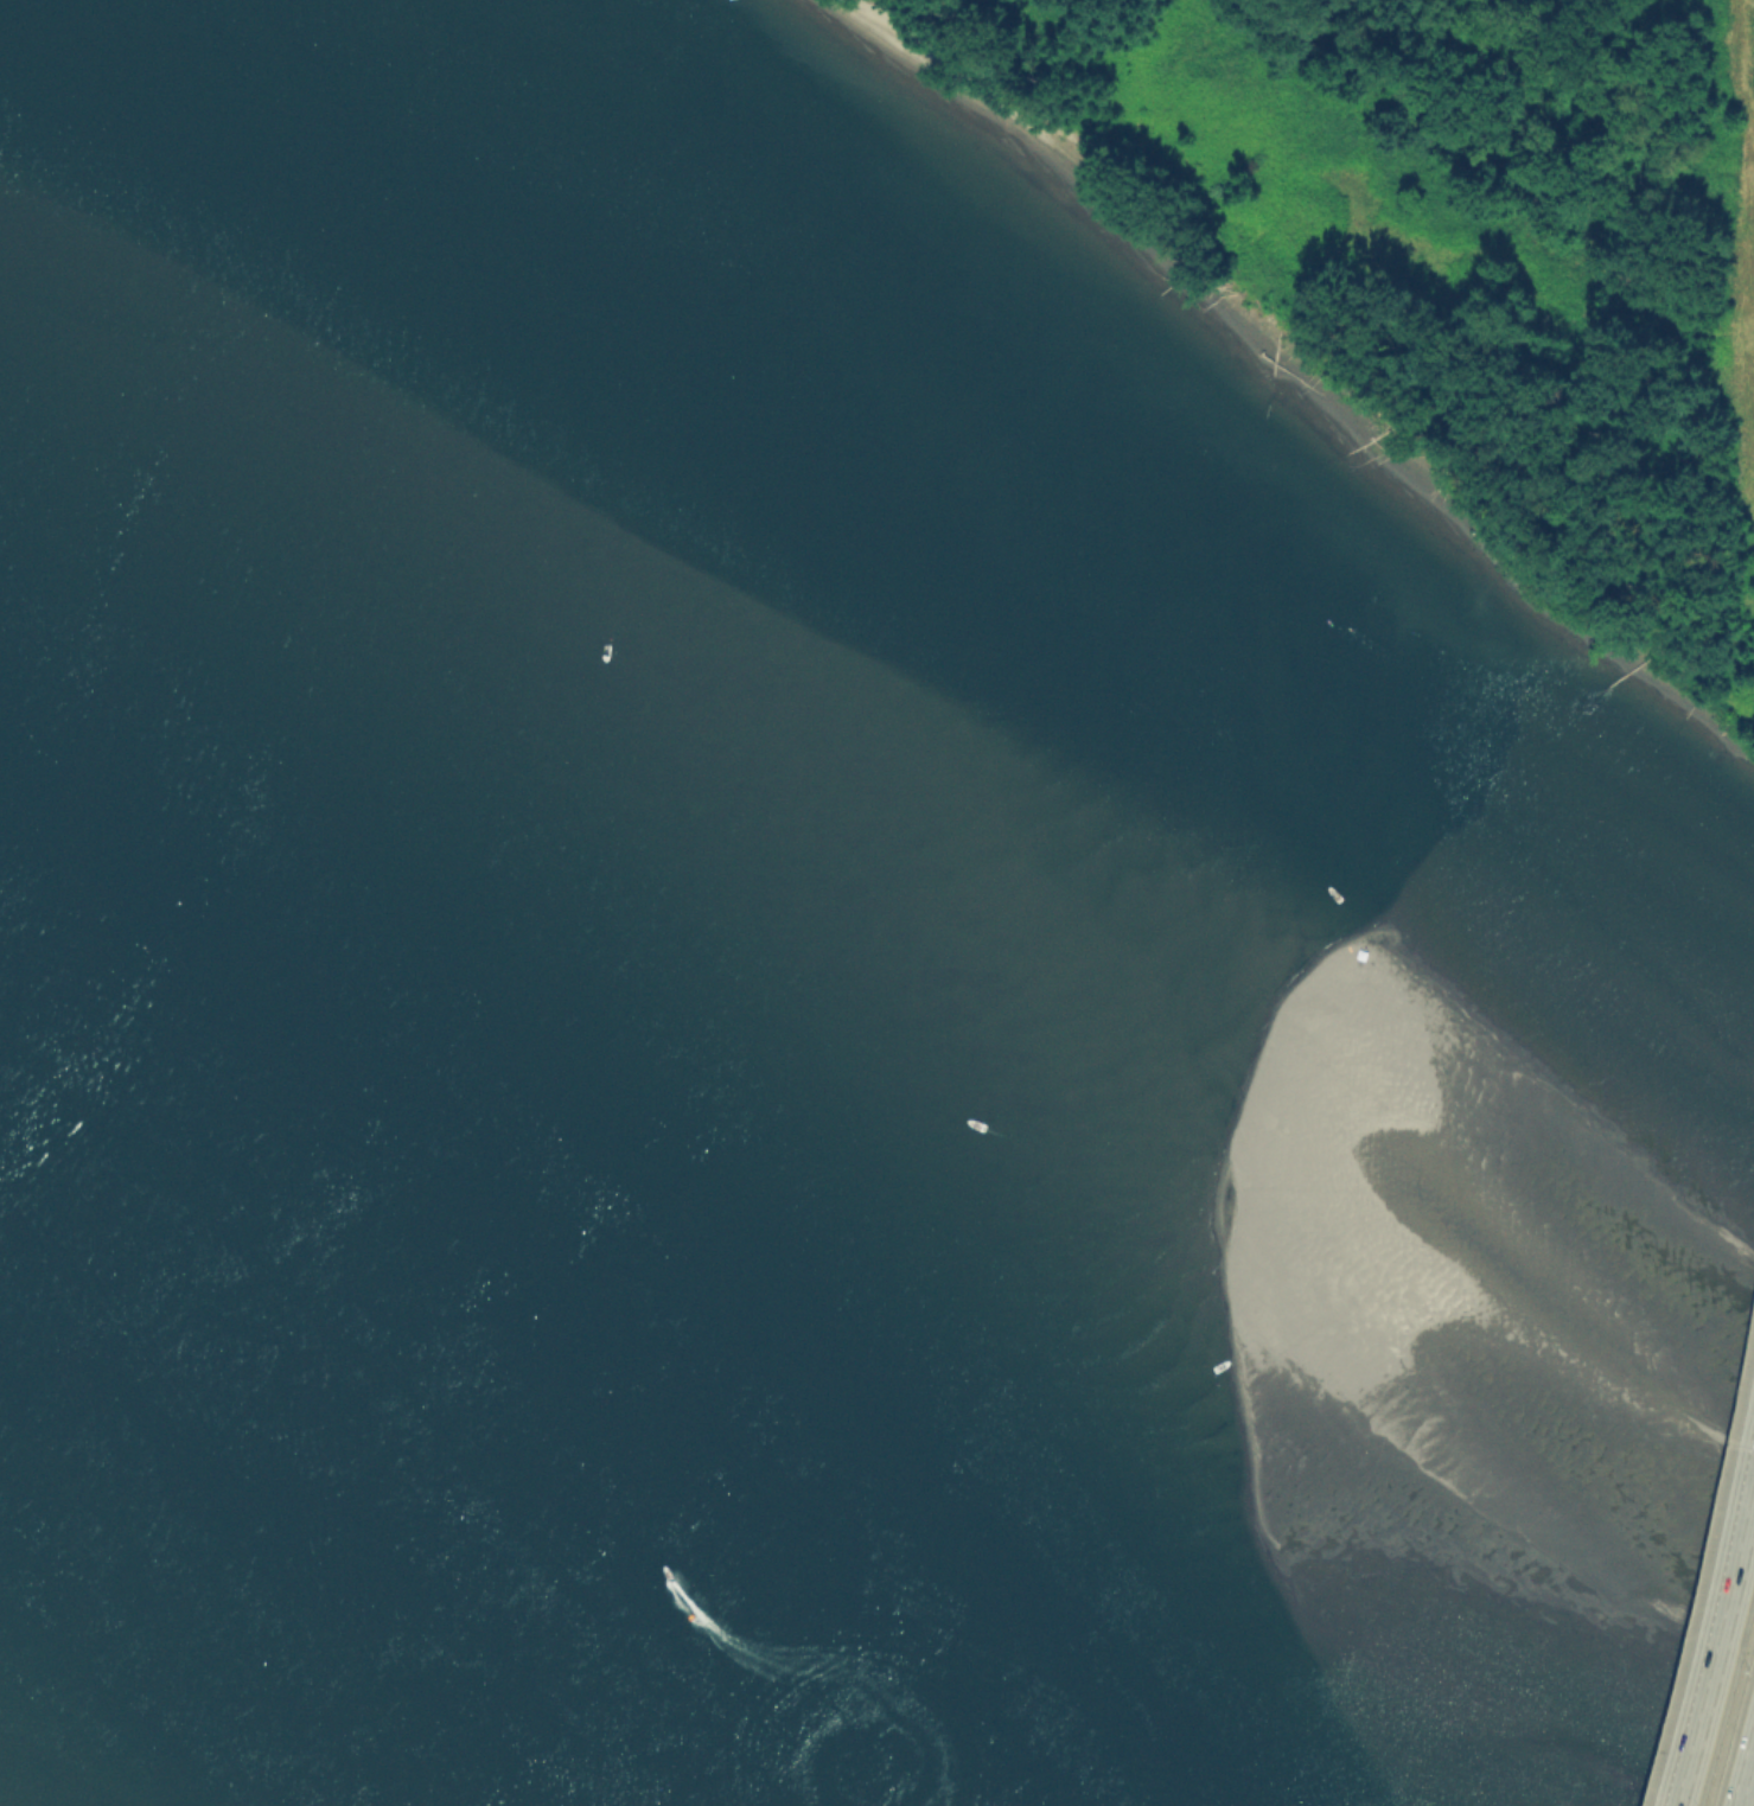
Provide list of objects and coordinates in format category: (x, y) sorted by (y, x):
road: (1720, 1665)
road: (1730, 1712)
road: (1741, 1757)

